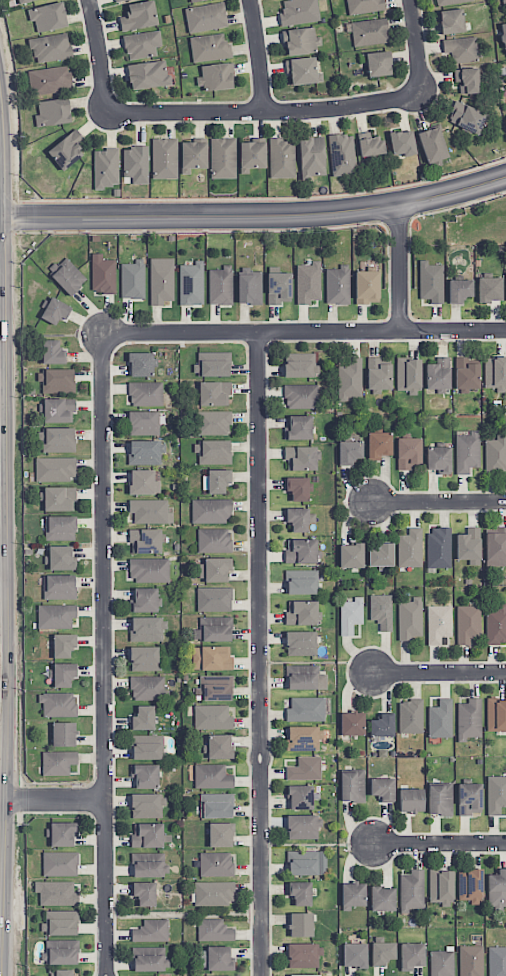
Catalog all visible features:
building: (116, 0)
building: (194, 0)
building: (22, 1)
building: (449, 1)
building: (364, 6)
building: (299, 11)
building: (47, 16)
building: (138, 16)
building: (205, 17)
building: (451, 21)
building: (369, 31)
building: (503, 33)
building: (300, 41)
building: (141, 44)
building: (50, 47)
building: (209, 47)
road: (415, 47)
building: (460, 49)
road: (257, 55)
road: (97, 56)
building: (378, 63)
building: (302, 70)
building: (148, 74)
building: (215, 76)
building: (505, 77)
building: (49, 80)
building: (467, 80)
building: (52, 112)
road: (262, 112)
building: (466, 117)
building: (401, 143)
building: (369, 144)
building: (432, 144)
building: (66, 149)
building: (252, 154)
building: (342, 154)
building: (193, 156)
building: (311, 156)
building: (164, 158)
building: (223, 158)
building: (281, 158)
building: (136, 163)
building: (105, 167)
road: (255, 216)
road: (400, 268)
building: (67, 275)
building: (102, 275)
building: (132, 279)
building: (161, 280)
building: (307, 282)
building: (431, 282)
building: (191, 283)
building: (220, 285)
building: (337, 285)
building: (366, 286)
building: (278, 287)
building: (249, 288)
building: (489, 289)
building: (459, 290)
building: (55, 311)
road: (304, 331)
building: (52, 352)
building: (140, 364)
building: (212, 364)
building: (300, 365)
building: (438, 373)
building: (495, 373)
building: (378, 374)
building: (466, 374)
building: (408, 375)
building: (56, 380)
building: (349, 380)
building: (145, 393)
building: (213, 393)
building: (301, 396)
building: (58, 410)
building: (145, 422)
building: (213, 422)
building: (298, 427)
building: (57, 439)
building: (378, 444)
building: (466, 450)
building: (212, 451)
building: (349, 451)
building: (145, 452)
building: (408, 453)
building: (495, 454)
building: (300, 457)
building: (439, 459)
building: (54, 468)
building: (216, 480)
building: (144, 481)
building: (297, 488)
building: (59, 498)
road: (439, 501)
building: (150, 510)
building: (211, 510)
building: (299, 519)
building: (60, 527)
road: (259, 539)
building: (214, 540)
building: (145, 541)
building: (468, 545)
building: (495, 546)
building: (439, 547)
building: (409, 548)
building: (301, 551)
building: (381, 554)
building: (350, 555)
building: (60, 558)
building: (148, 569)
building: (214, 569)
building: (301, 581)
building: (59, 587)
building: (214, 599)
building: (144, 600)
building: (381, 611)
building: (301, 612)
building: (55, 615)
building: (350, 615)
building: (410, 619)
building: (438, 623)
building: (468, 624)
building: (496, 625)
building: (147, 628)
building: (213, 629)
building: (300, 643)
building: (63, 645)
road: (104, 654)
building: (211, 657)
building: (144, 658)
road: (440, 672)
building: (63, 674)
building: (305, 677)
building: (148, 687)
building: (214, 688)
building: (58, 704)
building: (306, 709)
building: (496, 714)
building: (410, 716)
building: (212, 717)
building: (142, 718)
building: (440, 719)
building: (469, 719)
building: (351, 723)
building: (382, 725)
building: (63, 733)
building: (303, 738)
building: (219, 746)
building: (147, 747)
road: (268, 756)
road: (254, 757)
building: (58, 762)
building: (305, 768)
building: (145, 775)
building: (212, 776)
building: (352, 785)
building: (382, 788)
building: (496, 794)
building: (300, 797)
building: (469, 798)
building: (440, 799)
road: (32, 800)
road: (84, 800)
building: (410, 800)
building: (147, 805)
building: (216, 805)
building: (303, 826)
road: (1, 832)
building: (61, 833)
building: (220, 834)
building: (148, 835)
road: (440, 842)
building: (306, 862)
building: (60, 863)
building: (148, 864)
building: (216, 864)
road: (262, 872)
building: (470, 885)
building: (441, 887)
building: (497, 888)
building: (411, 890)
building: (214, 892)
building: (300, 892)
building: (56, 893)
building: (143, 893)
building: (353, 894)
building: (382, 898)
building: (60, 922)
building: (300, 924)
building: (213, 929)
building: (151, 930)
building: (60, 952)
building: (382, 952)
building: (354, 954)
building: (303, 955)
building: (411, 956)
building: (216, 958)
building: (147, 959)
building: (470, 960)
building: (497, 961)
building: (441, 963)
building: (221, 975)
building: (307, 975)

